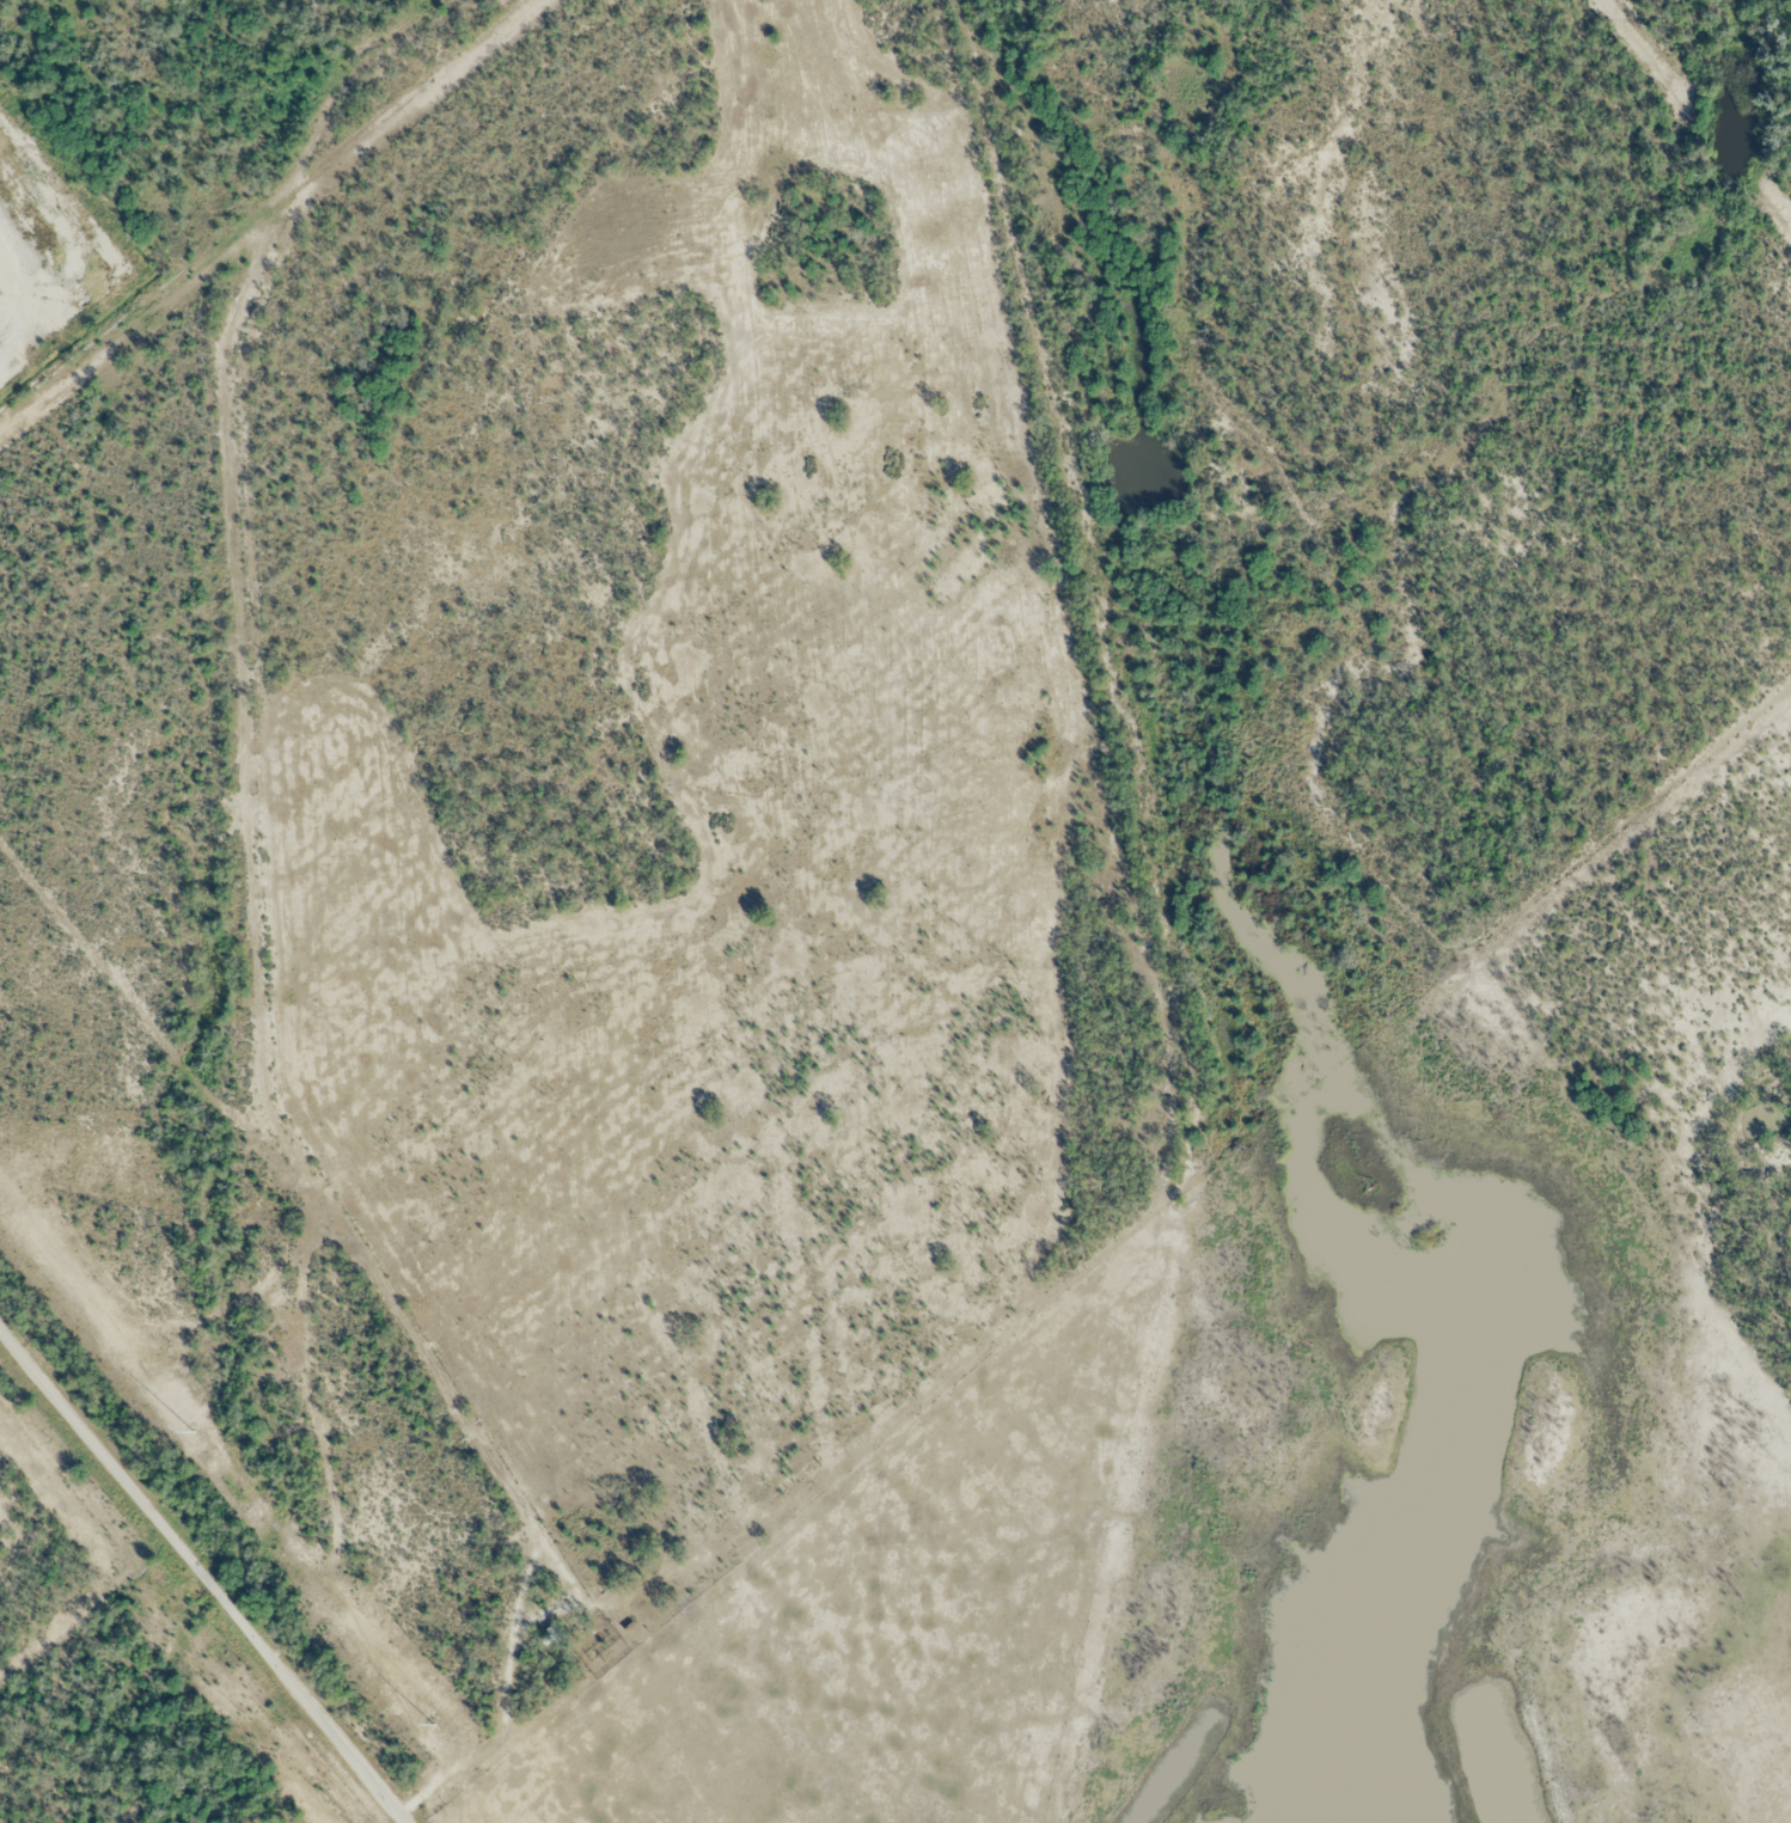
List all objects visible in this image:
power tower: (190, 1427)
road: (202, 1577)
power tower: (428, 1720)

